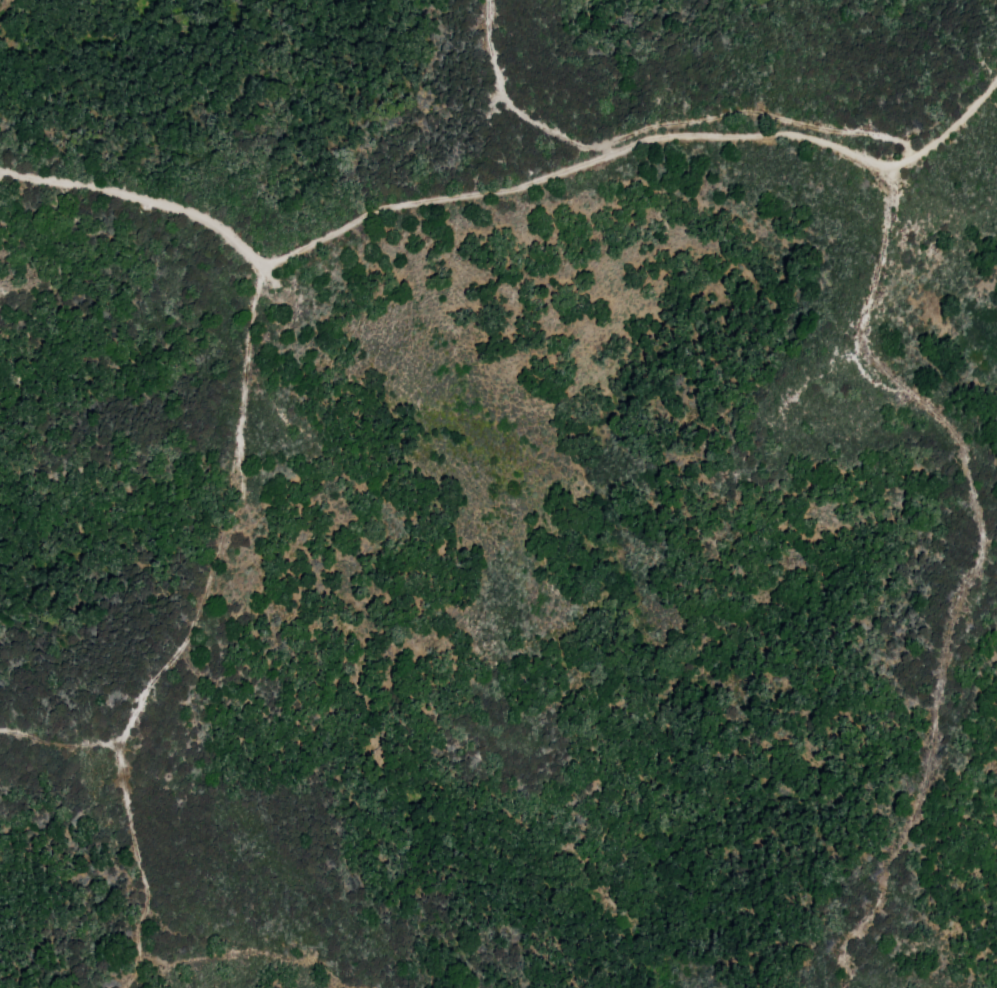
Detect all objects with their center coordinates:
road: (655, 126)
road: (504, 190)
road: (982, 552)
road: (189, 632)
road: (59, 745)

